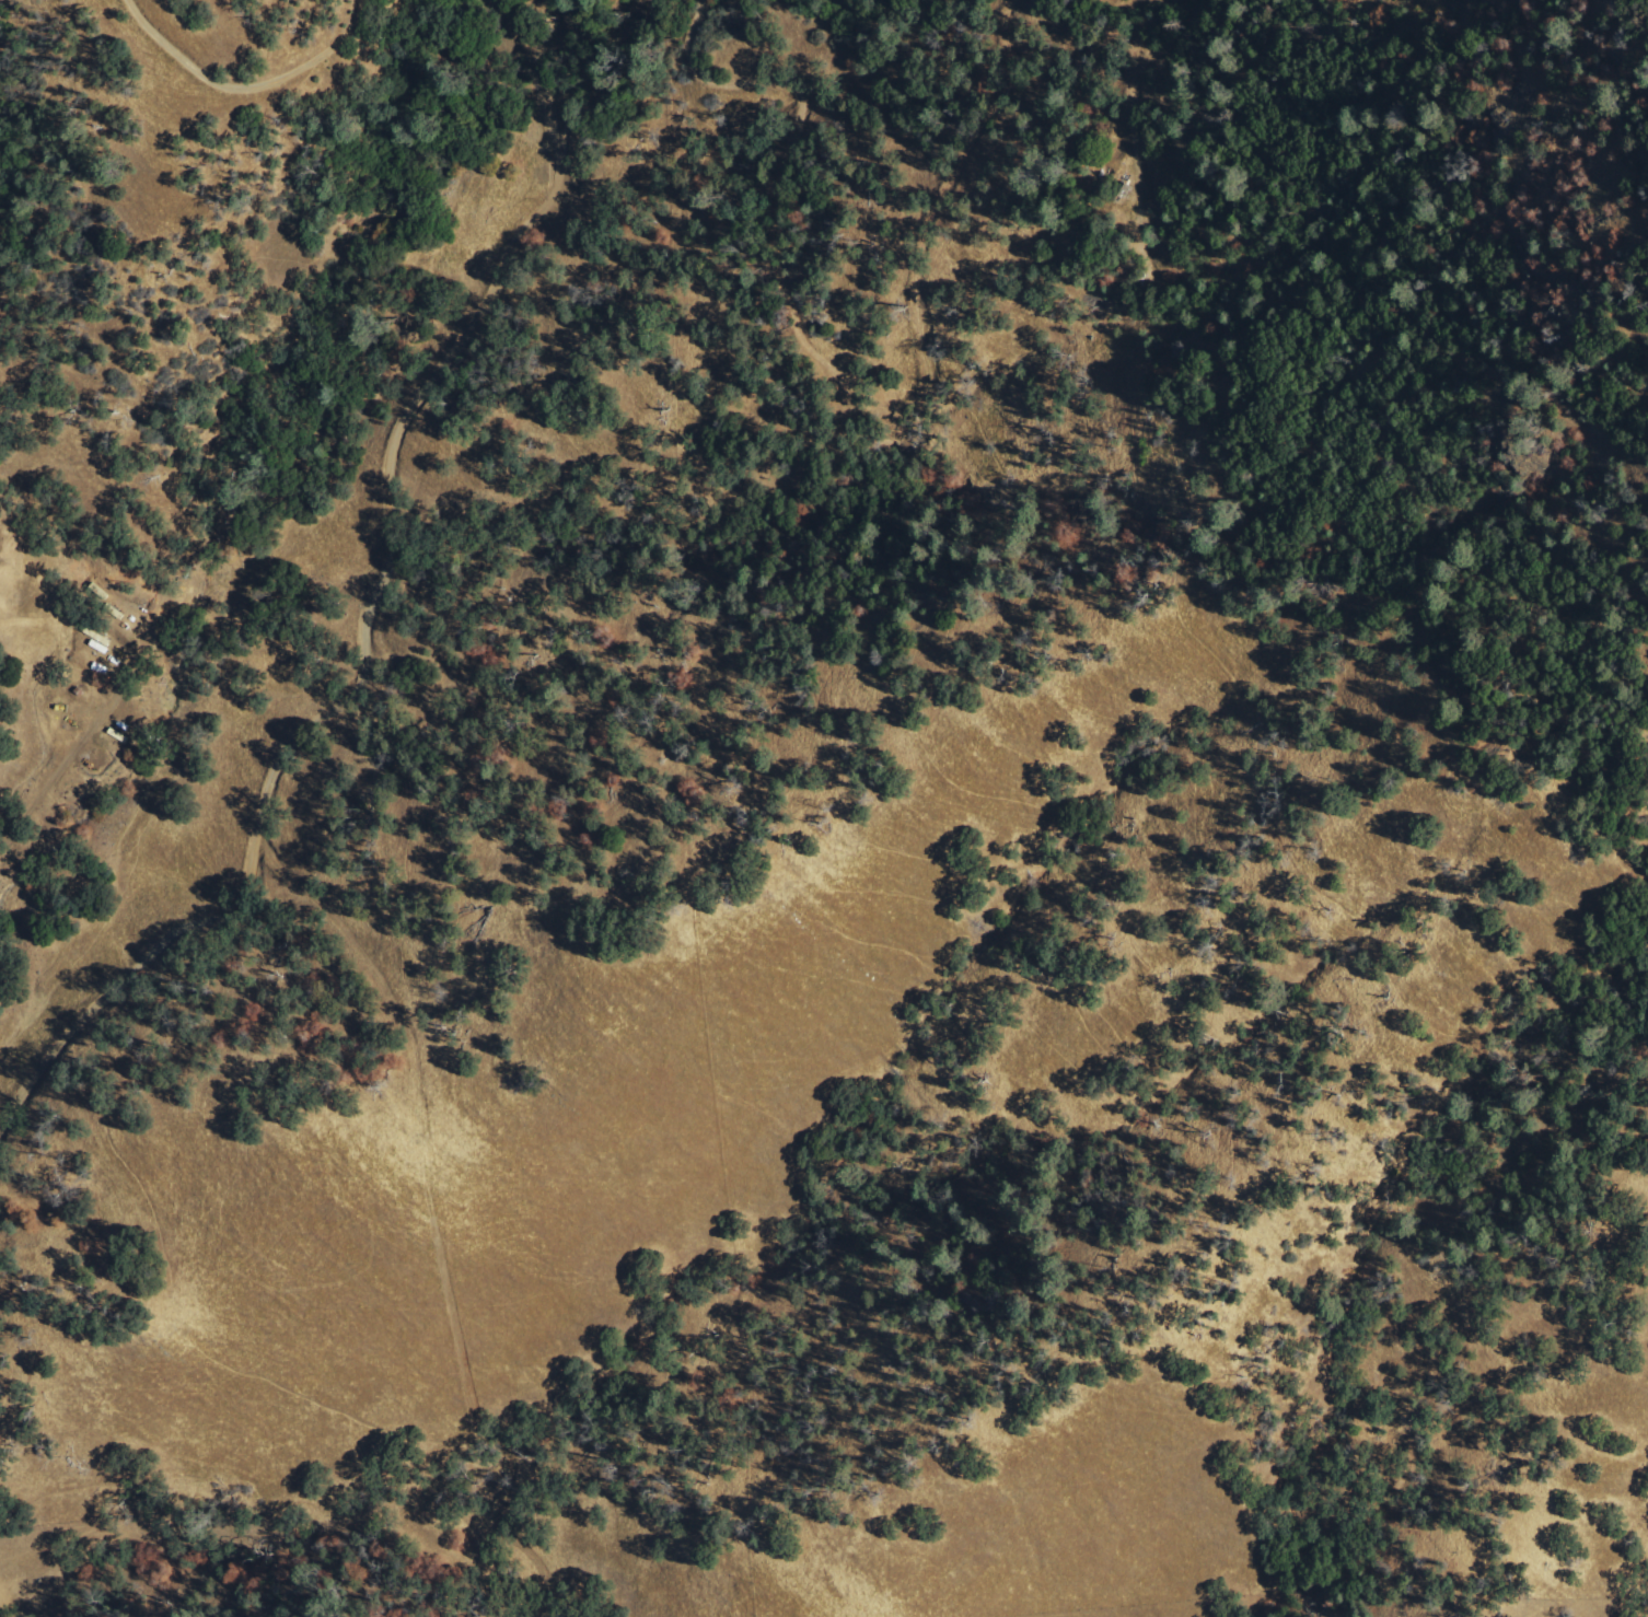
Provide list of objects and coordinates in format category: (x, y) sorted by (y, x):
road: (246, 90)
road: (369, 607)
road: (16, 1603)

